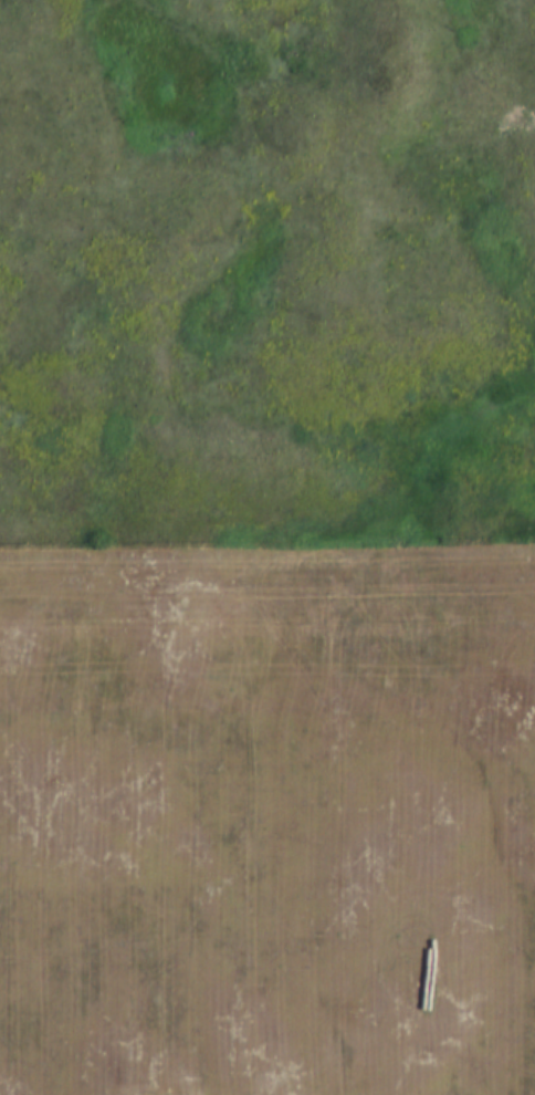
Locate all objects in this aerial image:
building: (303, 669)
building: (153, 843)
building: (256, 980)
building: (132, 1044)

